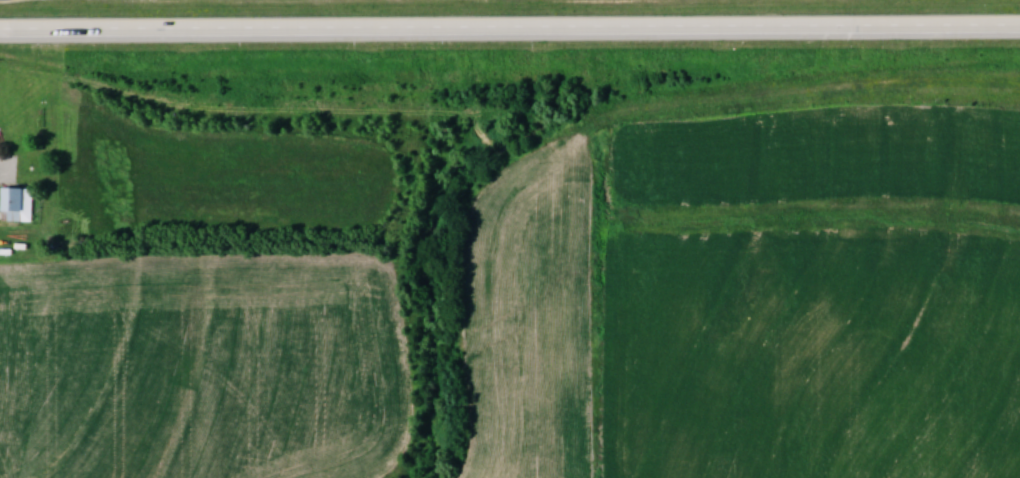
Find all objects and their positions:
road: (510, 32)
building: (17, 204)

